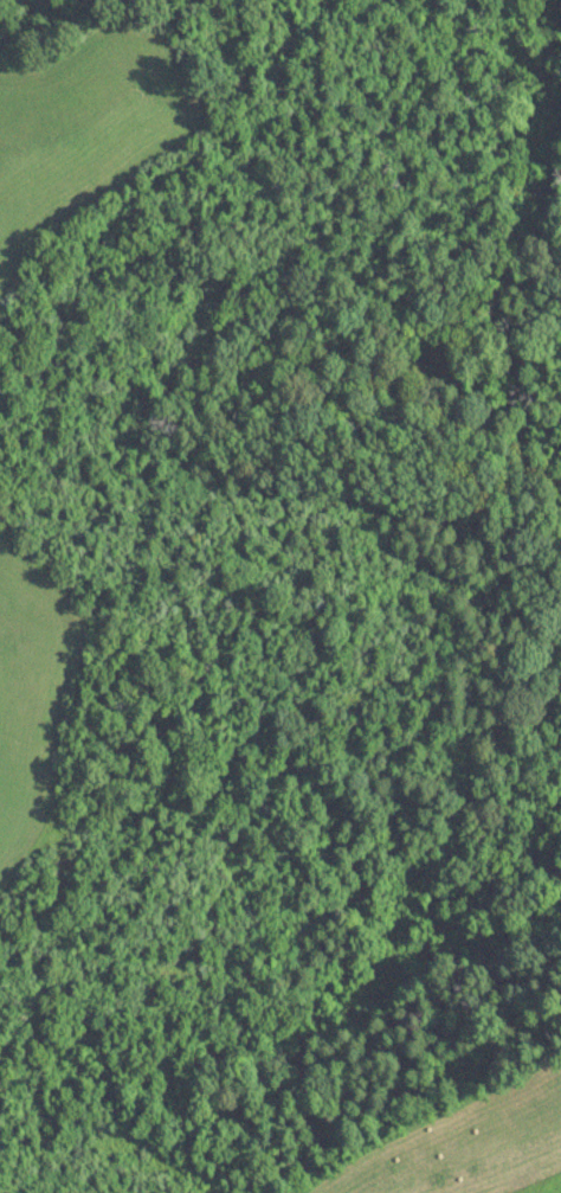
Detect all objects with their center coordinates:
road: (520, 98)

